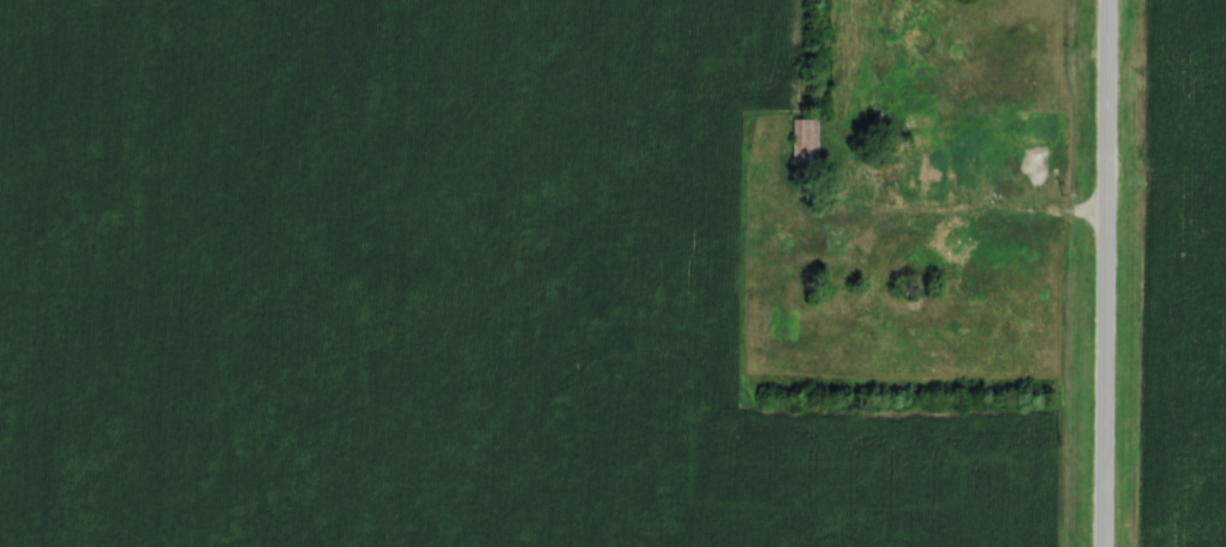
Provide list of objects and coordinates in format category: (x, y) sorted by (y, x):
building: (919, 104)
building: (1037, 127)
building: (803, 144)
building: (922, 175)
road: (1033, 214)
road: (1100, 272)

